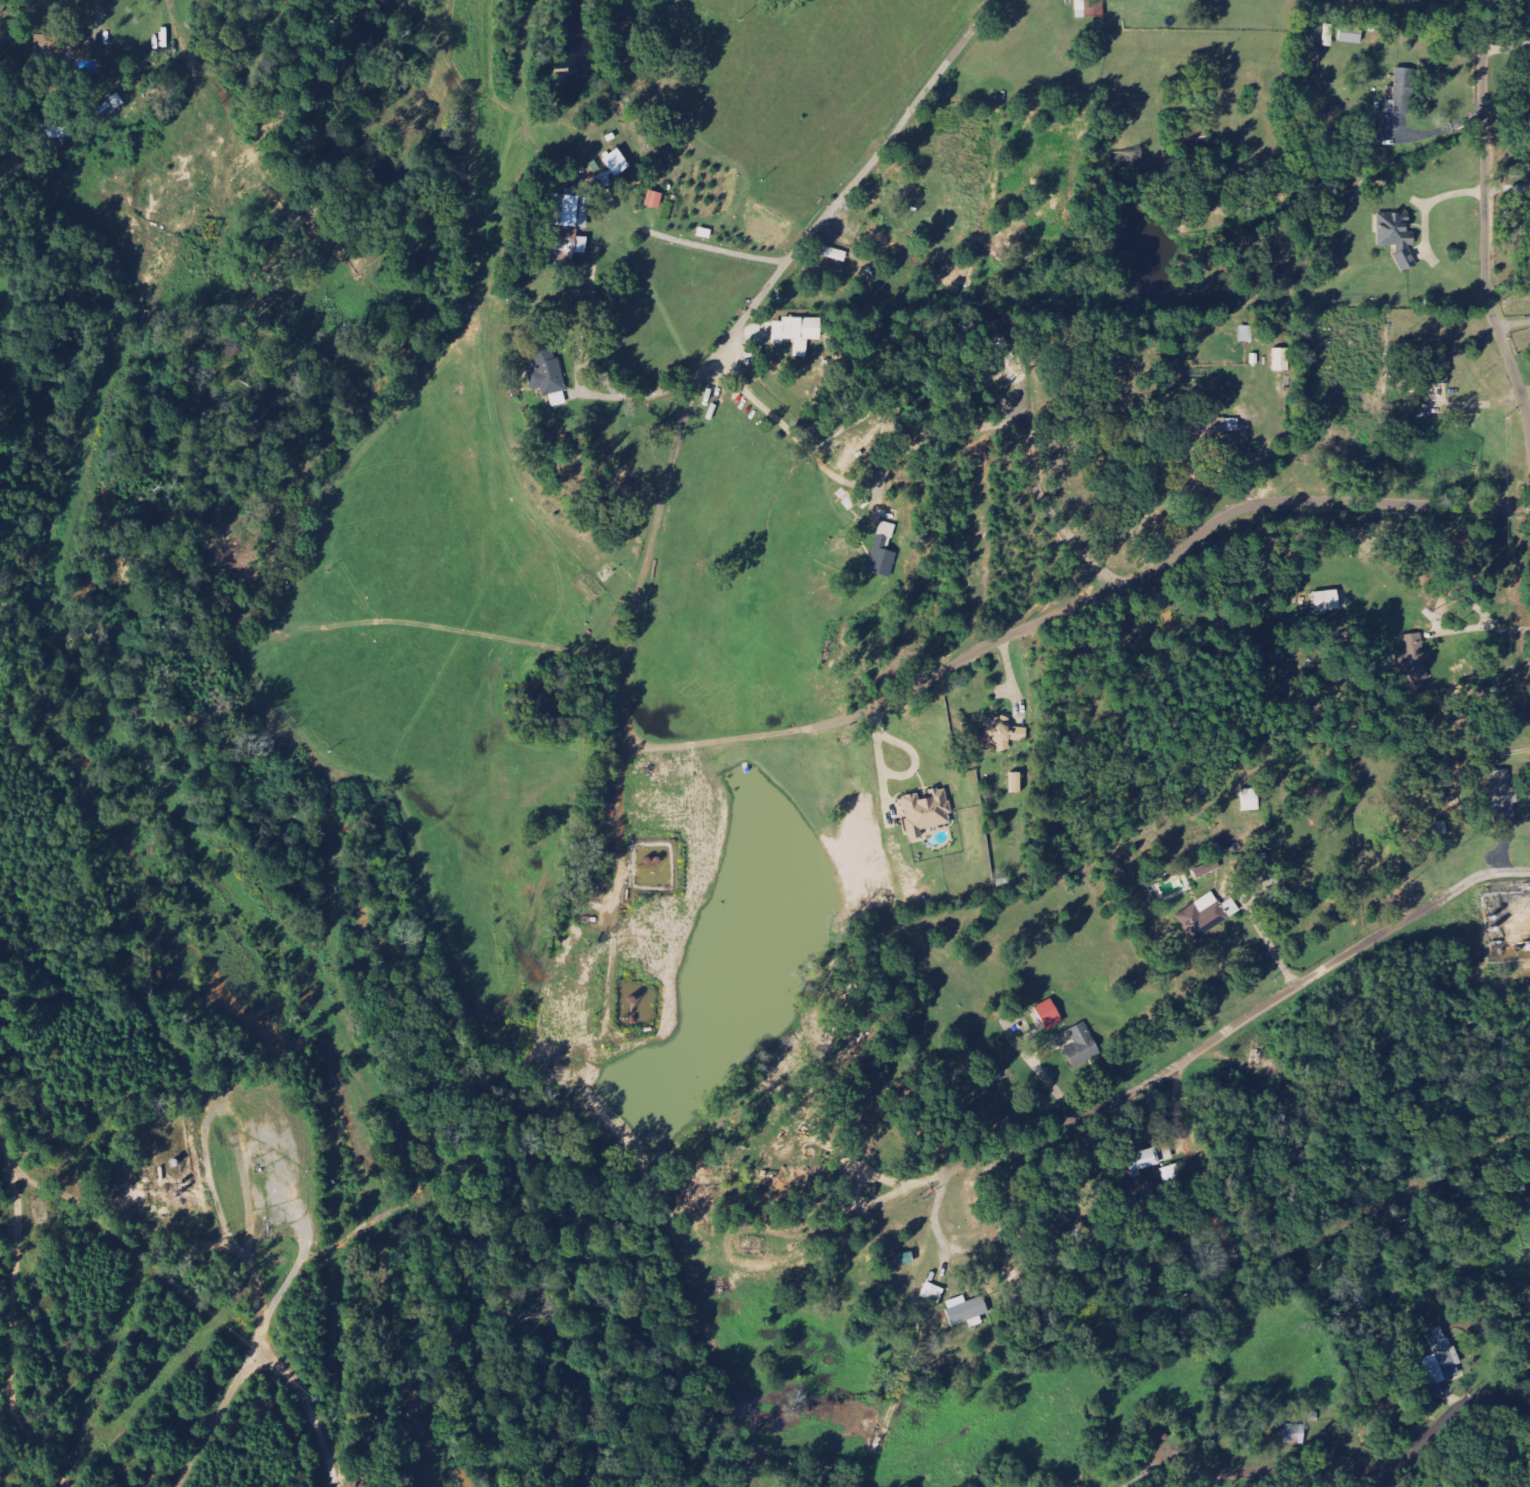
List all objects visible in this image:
building: (1077, 0)
building: (1091, 9)
building: (1307, 31)
building: (1324, 35)
building: (1352, 35)
building: (46, 45)
building: (1403, 94)
building: (113, 104)
building: (57, 129)
road: (262, 149)
road: (876, 154)
building: (655, 201)
building: (571, 212)
road: (1484, 218)
building: (1398, 238)
building: (576, 248)
road: (1512, 321)
building: (798, 333)
building: (1282, 360)
building: (1440, 365)
building: (549, 375)
road: (683, 382)
road: (848, 424)
building: (1211, 430)
building: (884, 552)
road: (1160, 563)
building: (1328, 601)
building: (1414, 658)
road: (716, 739)
road: (618, 773)
building: (1018, 783)
building: (1503, 798)
building: (1251, 800)
building: (926, 812)
building: (1441, 828)
building: (1207, 870)
building: (1208, 915)
road: (1262, 936)
building: (1050, 1014)
road: (1241, 1021)
building: (1083, 1046)
building: (1144, 1159)
road: (861, 1205)
building: (967, 1310)
building: (1442, 1358)
road: (1389, 1467)
road: (1372, 1478)

